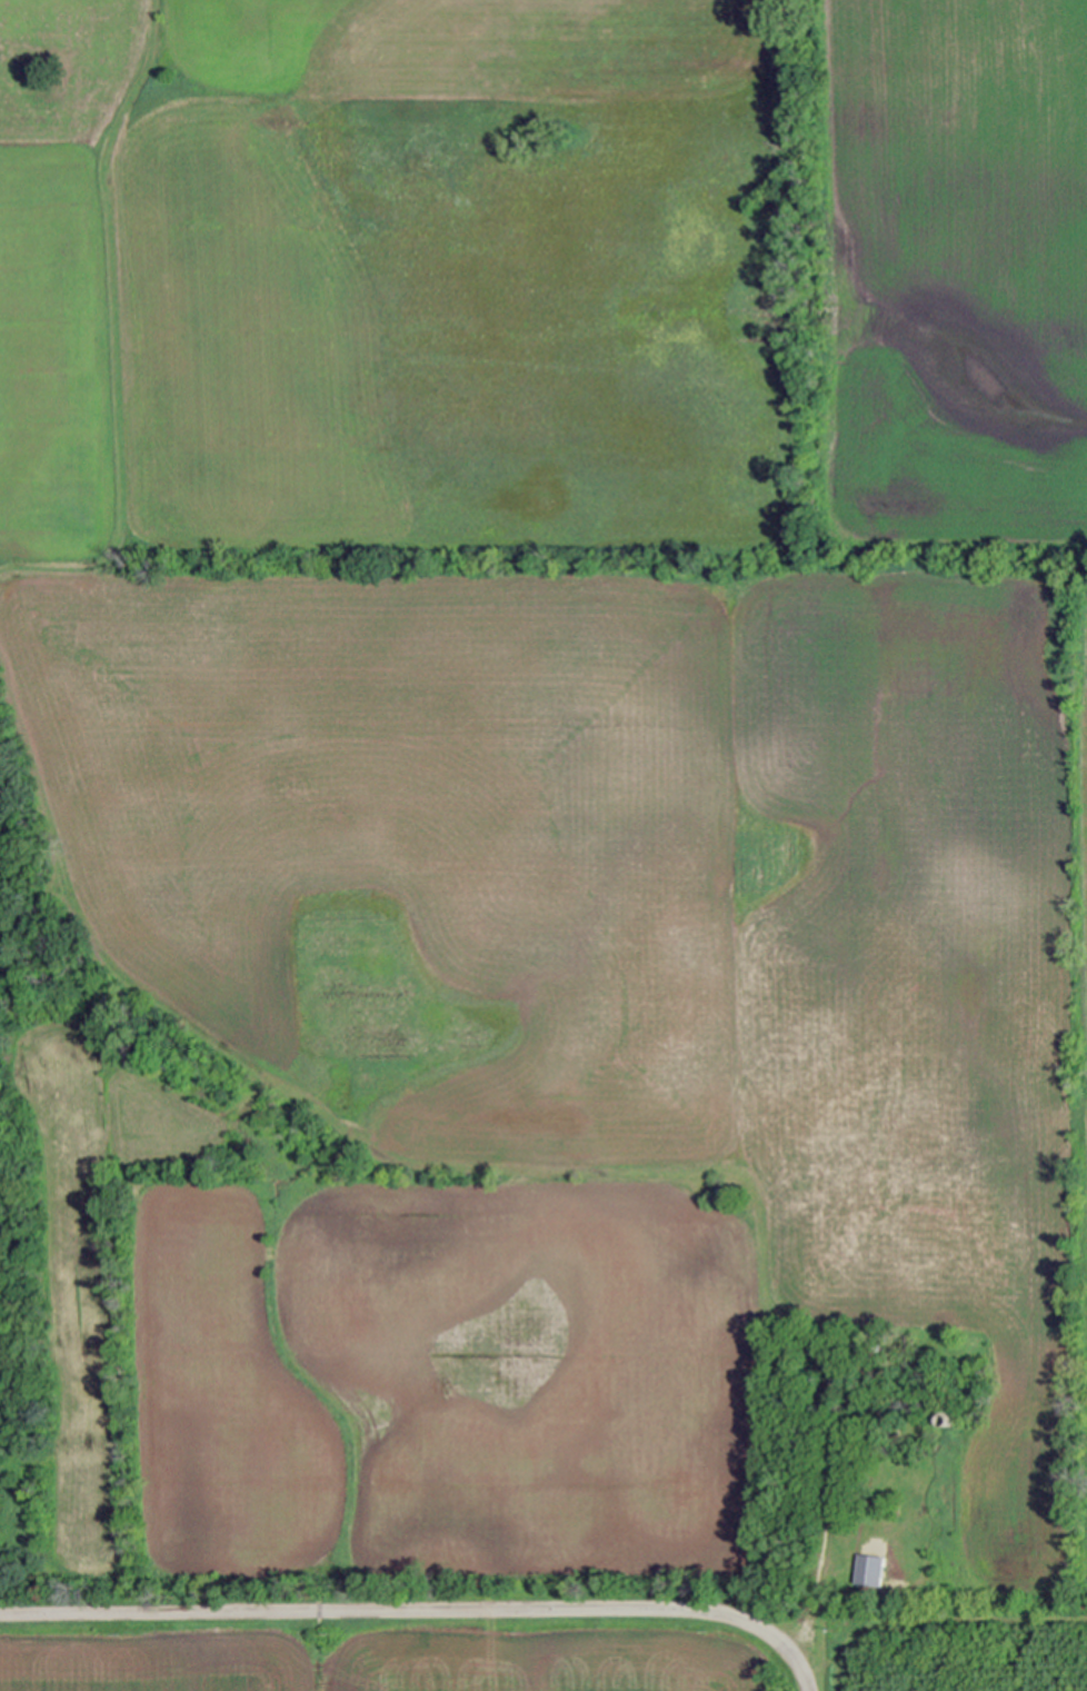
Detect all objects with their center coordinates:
building: (719, 1191)
building: (869, 1331)
building: (933, 1342)
building: (974, 1359)
building: (947, 1420)
road: (422, 1613)

